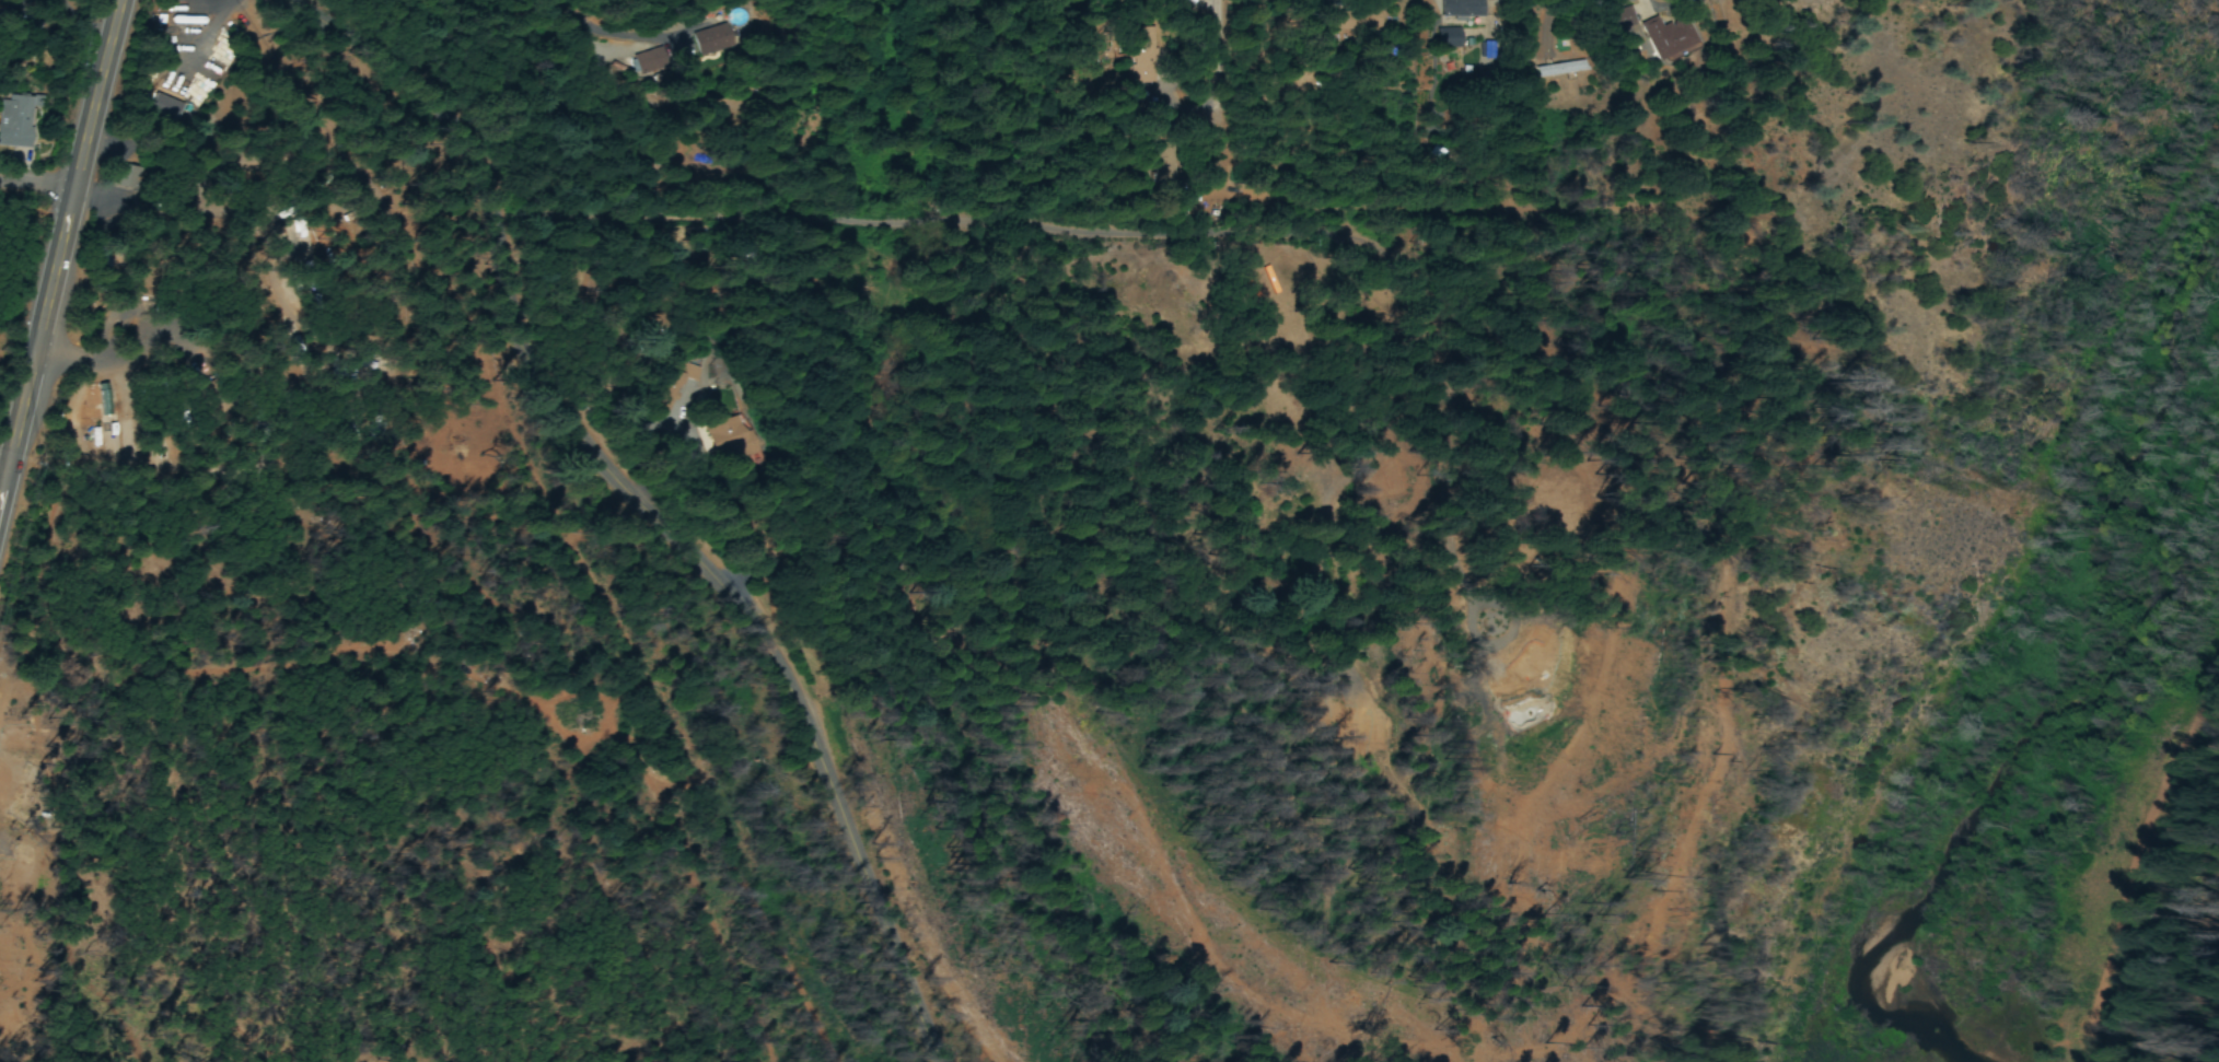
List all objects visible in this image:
building: (1162, 0)
building: (1462, 10)
building: (1623, 20)
building: (1344, 22)
building: (1668, 37)
building: (1449, 39)
building: (706, 43)
building: (1474, 50)
building: (1141, 57)
building: (1559, 70)
road: (762, 100)
road: (1227, 104)
building: (164, 106)
road: (618, 109)
building: (15, 122)
road: (39, 185)
road: (1407, 224)
road: (61, 262)
road: (278, 338)
road: (74, 341)
road: (643, 424)
road: (7, 468)
road: (648, 505)

